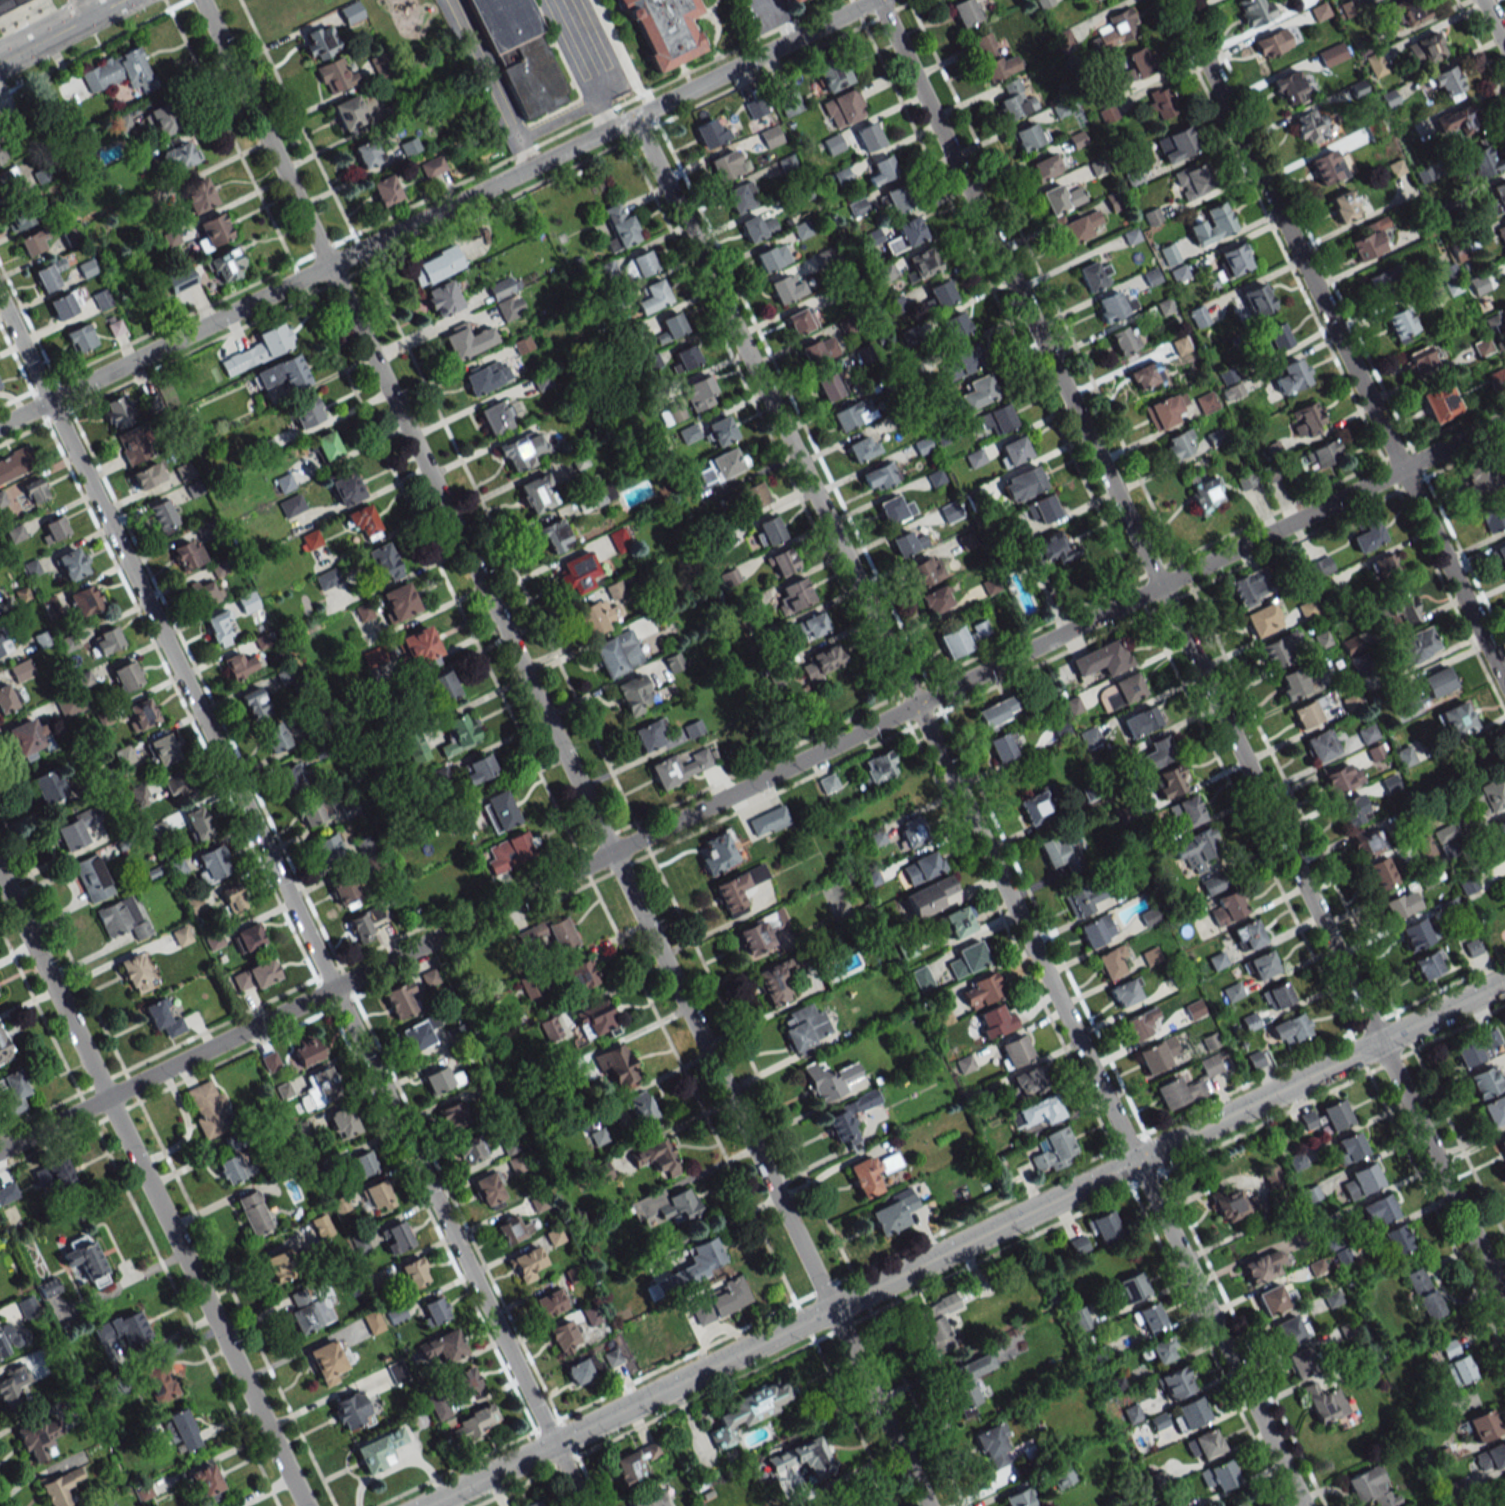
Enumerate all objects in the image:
building: (1095, 0)
building: (793, 1)
building: (1044, 3)
building: (12, 5)
road: (84, 7)
building: (1254, 11)
building: (1319, 11)
building: (350, 12)
building: (965, 12)
building: (1407, 12)
road: (1493, 23)
road: (57, 29)
building: (665, 29)
building: (1116, 30)
building: (318, 42)
building: (1274, 42)
road: (602, 43)
building: (1425, 48)
building: (518, 53)
building: (1330, 55)
road: (748, 58)
building: (992, 58)
parking lot: (536, 60)
building: (1137, 64)
building: (379, 65)
building: (1375, 65)
building: (120, 72)
building: (831, 73)
building: (336, 74)
building: (1446, 82)
road: (490, 83)
building: (1290, 88)
road: (608, 94)
building: (1388, 98)
building: (788, 101)
building: (1014, 101)
building: (1161, 103)
building: (755, 108)
building: (843, 108)
building: (348, 113)
road: (569, 114)
building: (161, 120)
building: (1457, 121)
building: (1310, 126)
building: (710, 132)
building: (770, 136)
building: (868, 136)
building: (1028, 136)
building: (833, 144)
building: (1175, 144)
building: (409, 146)
building: (371, 151)
building: (1, 156)
building: (179, 156)
building: (1479, 162)
building: (433, 166)
building: (725, 166)
building: (1326, 166)
building: (1044, 167)
building: (882, 170)
building: (1192, 181)
building: (9, 182)
building: (385, 190)
building: (198, 195)
building: (741, 197)
building: (1061, 198)
building: (1497, 198)
building: (896, 199)
building: (1343, 206)
building: (19, 218)
building: (1211, 224)
building: (619, 227)
building: (756, 227)
building: (1080, 227)
building: (212, 230)
building: (905, 234)
building: (1501, 234)
building: (1368, 240)
building: (33, 242)
building: (1168, 254)
building: (824, 256)
building: (772, 257)
building: (1234, 259)
building: (923, 262)
building: (226, 265)
building: (639, 265)
building: (437, 266)
building: (87, 268)
road: (316, 271)
building: (884, 272)
building: (50, 274)
building: (1179, 274)
building: (1094, 276)
building: (181, 281)
building: (1383, 281)
building: (1474, 285)
building: (503, 287)
building: (785, 289)
building: (940, 293)
building: (652, 296)
building: (101, 299)
building: (442, 299)
building: (1256, 299)
building: (65, 305)
building: (895, 305)
building: (1114, 306)
building: (510, 307)
building: (1198, 316)
building: (799, 320)
building: (1401, 324)
building: (954, 325)
building: (670, 327)
road: (417, 336)
building: (80, 338)
building: (1274, 338)
building: (1124, 340)
building: (462, 342)
road: (1340, 342)
building: (1181, 345)
building: (1482, 347)
building: (259, 349)
building: (819, 350)
building: (686, 356)
building: (1421, 360)
building: (961, 362)
building: (281, 373)
building: (1145, 375)
building: (1226, 375)
building: (486, 376)
building: (1290, 376)
building: (1497, 380)
building: (541, 382)
building: (830, 386)
building: (977, 392)
building: (698, 393)
building: (1439, 402)
building: (1205, 403)
building: (1165, 410)
building: (117, 412)
building: (307, 412)
building: (671, 414)
building: (847, 416)
building: (497, 417)
building: (1306, 418)
building: (996, 419)
building: (720, 431)
building: (688, 433)
building: (1179, 444)
building: (132, 445)
building: (327, 446)
building: (862, 448)
building: (521, 451)
building: (1013, 451)
building: (1323, 454)
building: (16, 463)
building: (722, 465)
building: (146, 475)
building: (879, 476)
building: (1477, 477)
building: (1248, 480)
building: (286, 482)
building: (1022, 484)
building: (346, 488)
building: (35, 491)
building: (1206, 493)
building: (537, 494)
building: (600, 495)
building: (754, 495)
building: (2, 499)
building: (291, 505)
building: (891, 510)
building: (1042, 510)
building: (162, 516)
building: (1493, 516)
road: (1126, 521)
building: (54, 531)
building: (768, 531)
building: (1368, 534)
building: (554, 536)
building: (311, 539)
building: (620, 540)
building: (906, 543)
building: (1053, 547)
building: (187, 554)
building: (1500, 555)
building: (384, 562)
building: (782, 562)
building: (73, 563)
building: (1319, 567)
building: (1384, 569)
building: (923, 572)
building: (578, 573)
building: (327, 578)
building: (1250, 588)
building: (615, 590)
building: (204, 593)
building: (794, 595)
building: (936, 599)
building: (86, 600)
building: (398, 602)
building: (247, 603)
building: (1399, 608)
building: (363, 612)
building: (598, 616)
building: (1259, 621)
building: (812, 625)
building: (217, 628)
building: (963, 638)
building: (108, 640)
building: (1417, 644)
building: (420, 646)
building: (1276, 650)
building: (1, 651)
building: (617, 653)
building: (1101, 659)
building: (821, 661)
building: (238, 665)
building: (21, 670)
building: (127, 675)
building: (1295, 682)
building: (1437, 682)
building: (443, 686)
building: (1119, 692)
building: (633, 694)
building: (7, 698)
building: (255, 704)
traffic signals: (916, 705)
building: (1072, 705)
building: (1309, 711)
building: (998, 713)
building: (140, 714)
building: (1454, 720)
building: (1140, 721)
building: (458, 733)
building: (649, 734)
building: (27, 736)
building: (275, 736)
building: (1321, 745)
building: (1001, 747)
building: (162, 749)
road: (563, 752)
building: (1158, 752)
building: (1404, 756)
building: (877, 767)
building: (679, 768)
building: (478, 769)
building: (291, 777)
building: (1342, 778)
building: (1169, 781)
building: (176, 783)
road: (752, 783)
building: (828, 783)
building: (48, 787)
building: (140, 795)
building: (1488, 796)
building: (1036, 807)
building: (1352, 809)
building: (499, 811)
road: (967, 811)
building: (1185, 812)
building: (310, 814)
building: (767, 820)
building: (197, 822)
building: (911, 831)
building: (1500, 831)
building: (1445, 832)
building: (70, 836)
building: (1365, 842)
building: (329, 848)
building: (1195, 849)
building: (1058, 851)
building: (509, 852)
building: (718, 852)
building: (214, 864)
building: (177, 866)
building: (921, 867)
building: (1379, 873)
building: (93, 879)
building: (1213, 884)
building: (1468, 885)
building: (736, 889)
building: (345, 892)
building: (928, 897)
building: (233, 898)
building: (1084, 898)
road: (292, 903)
building: (1401, 904)
building: (1228, 907)
building: (112, 919)
building: (364, 922)
building: (954, 923)
building: (1096, 930)
building: (759, 931)
building: (1416, 933)
building: (550, 934)
building: (1248, 935)
building: (181, 936)
building: (248, 937)
building: (1472, 947)
building: (1150, 956)
building: (967, 959)
road: (111, 962)
building: (1110, 962)
building: (1262, 965)
building: (1429, 965)
building: (135, 975)
building: (255, 975)
building: (579, 975)
building: (430, 977)
building: (777, 979)
building: (922, 979)
building: (530, 985)
building: (980, 991)
building: (1126, 992)
building: (1232, 992)
building: (1276, 997)
building: (399, 999)
building: (1194, 1009)
building: (164, 1019)
building: (593, 1020)
building: (1249, 1021)
building: (995, 1022)
building: (1139, 1024)
building: (803, 1028)
building: (550, 1029)
building: (1290, 1029)
road: (1404, 1029)
building: (418, 1034)
building: (4, 1049)
building: (1476, 1049)
building: (307, 1051)
building: (1014, 1051)
building: (1157, 1054)
building: (269, 1060)
building: (1255, 1061)
building: (615, 1065)
building: (1209, 1065)
building: (442, 1079)
building: (829, 1079)
building: (1025, 1081)
building: (1486, 1081)
building: (317, 1089)
building: (13, 1092)
building: (1178, 1092)
building: (208, 1109)
building: (1494, 1109)
building: (642, 1111)
building: (1039, 1111)
building: (1335, 1115)
building: (452, 1116)
building: (847, 1118)
building: (342, 1122)
building: (302, 1129)
building: (1502, 1146)
building: (1348, 1148)
building: (470, 1149)
building: (1054, 1150)
building: (655, 1157)
building: (361, 1165)
building: (233, 1168)
building: (600, 1172)
building: (870, 1173)
road: (1442, 1173)
building: (59, 1174)
building: (1360, 1181)
building: (489, 1188)
road: (152, 1191)
building: (8, 1193)
building: (376, 1195)
building: (1231, 1203)
building: (339, 1204)
building: (676, 1205)
building: (1378, 1209)
building: (252, 1212)
building: (892, 1214)
building: (321, 1226)
building: (1104, 1227)
building: (512, 1229)
building: (395, 1237)
building: (1396, 1239)
building: (1078, 1245)
building: (86, 1259)
building: (527, 1263)
building: (279, 1265)
building: (1263, 1266)
building: (1316, 1267)
building: (688, 1268)
building: (414, 1272)
building: (48, 1287)
building: (1131, 1288)
road: (865, 1291)
building: (1423, 1293)
building: (1275, 1299)
building: (549, 1303)
building: (720, 1304)
building: (434, 1311)
building: (302, 1312)
building: (396, 1314)
building: (591, 1315)
building: (1150, 1317)
building: (1080, 1319)
building: (372, 1321)
building: (937, 1322)
building: (122, 1328)
building: (1290, 1330)
building: (562, 1336)
building: (8, 1339)
building: (442, 1347)
building: (1162, 1350)
building: (612, 1358)
building: (327, 1362)
building: (1298, 1363)
building: (584, 1370)
building: (1459, 1370)
building: (966, 1382)
building: (158, 1383)
building: (466, 1383)
building: (1174, 1383)
building: (12, 1385)
building: (1324, 1403)
building: (350, 1407)
building: (750, 1409)
building: (1131, 1413)
building: (1189, 1414)
building: (1158, 1421)
building: (474, 1422)
building: (1483, 1425)
building: (183, 1430)
building: (33, 1440)
building: (1203, 1445)
building: (992, 1447)
building: (379, 1449)
building: (801, 1457)
building: (633, 1463)
building: (1062, 1474)
building: (1219, 1475)
building: (1503, 1481)
building: (206, 1482)
building: (1371, 1486)
building: (61, 1487)
building: (142, 1492)
building: (1019, 1498)
building: (650, 1500)
building: (532, 1503)
building: (109, 1504)
building: (1239, 1504)

